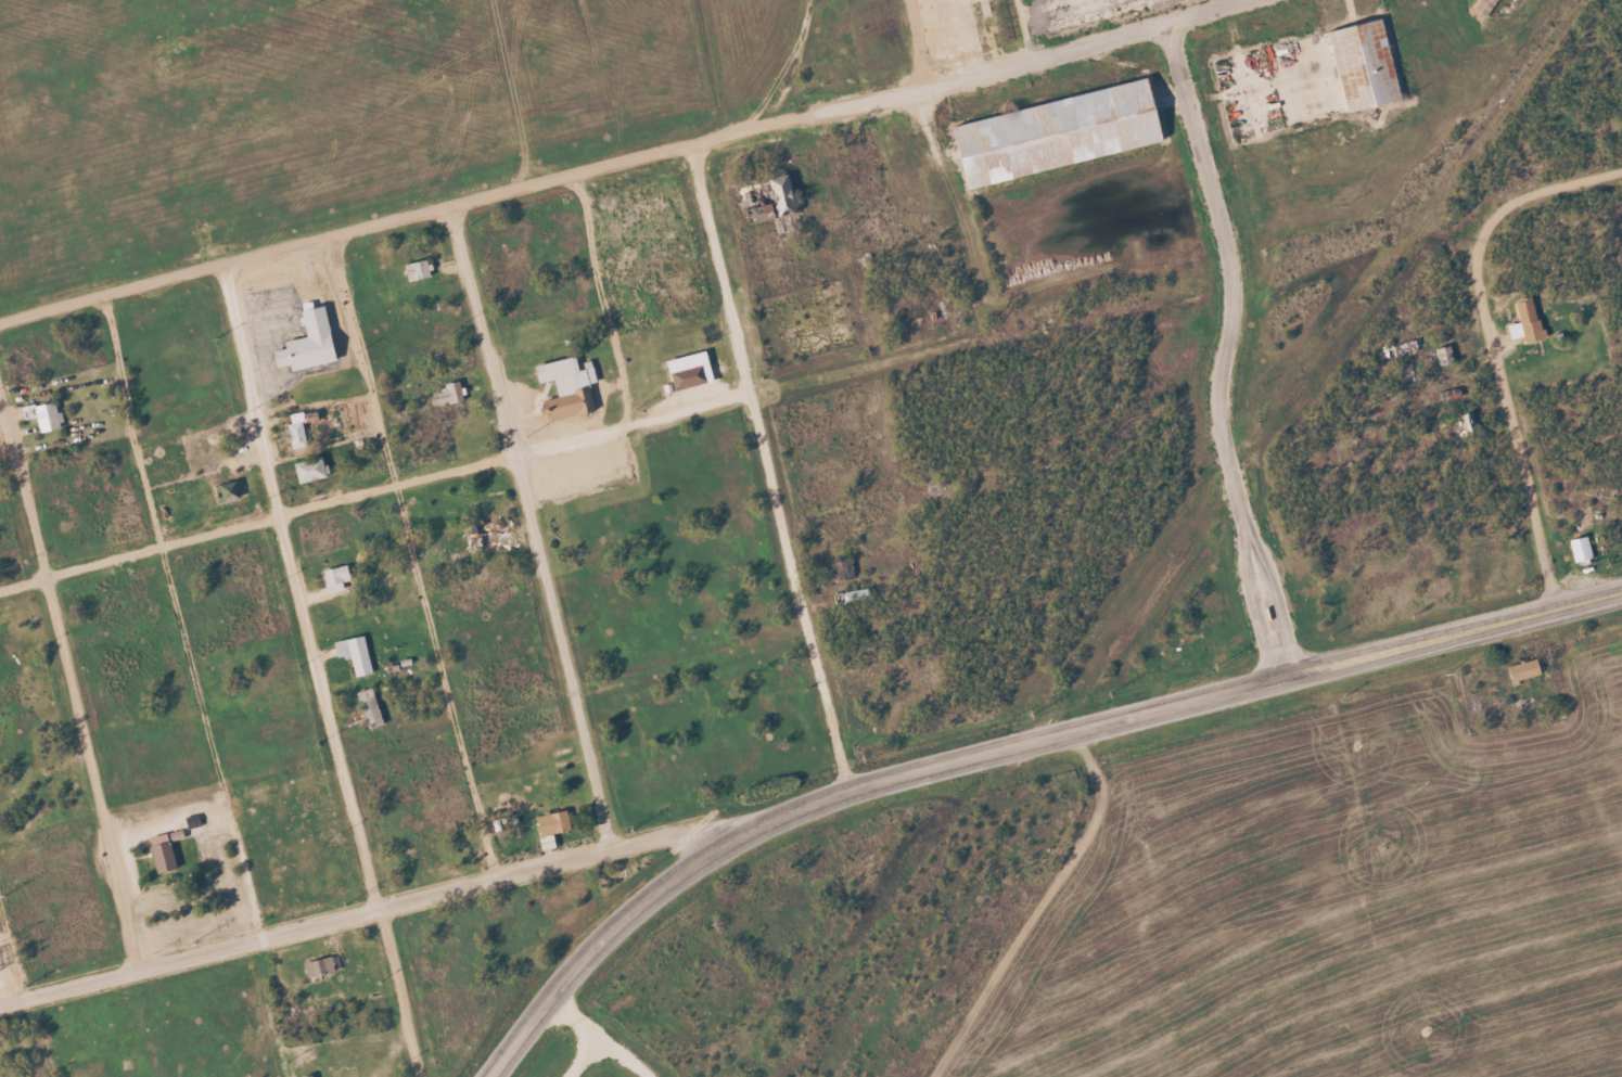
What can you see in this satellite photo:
building: (1486, 7)
building: (1363, 64)
building: (1053, 133)
road: (616, 165)
road: (1544, 191)
building: (778, 201)
building: (417, 269)
road: (602, 298)
building: (1525, 321)
building: (307, 343)
road: (1224, 348)
building: (689, 370)
building: (566, 386)
building: (445, 395)
building: (43, 415)
road: (1512, 421)
building: (296, 432)
road: (769, 466)
building: (309, 469)
building: (228, 490)
road: (375, 490)
road: (532, 526)
building: (481, 535)
building: (1580, 549)
road: (413, 556)
building: (842, 569)
building: (334, 578)
building: (853, 592)
road: (179, 618)
building: (354, 654)
building: (1523, 670)
road: (317, 671)
road: (69, 679)
building: (369, 707)
road: (1005, 745)
building: (552, 823)
building: (161, 854)
road: (355, 912)
road: (12, 953)
building: (318, 966)
road: (586, 1031)

